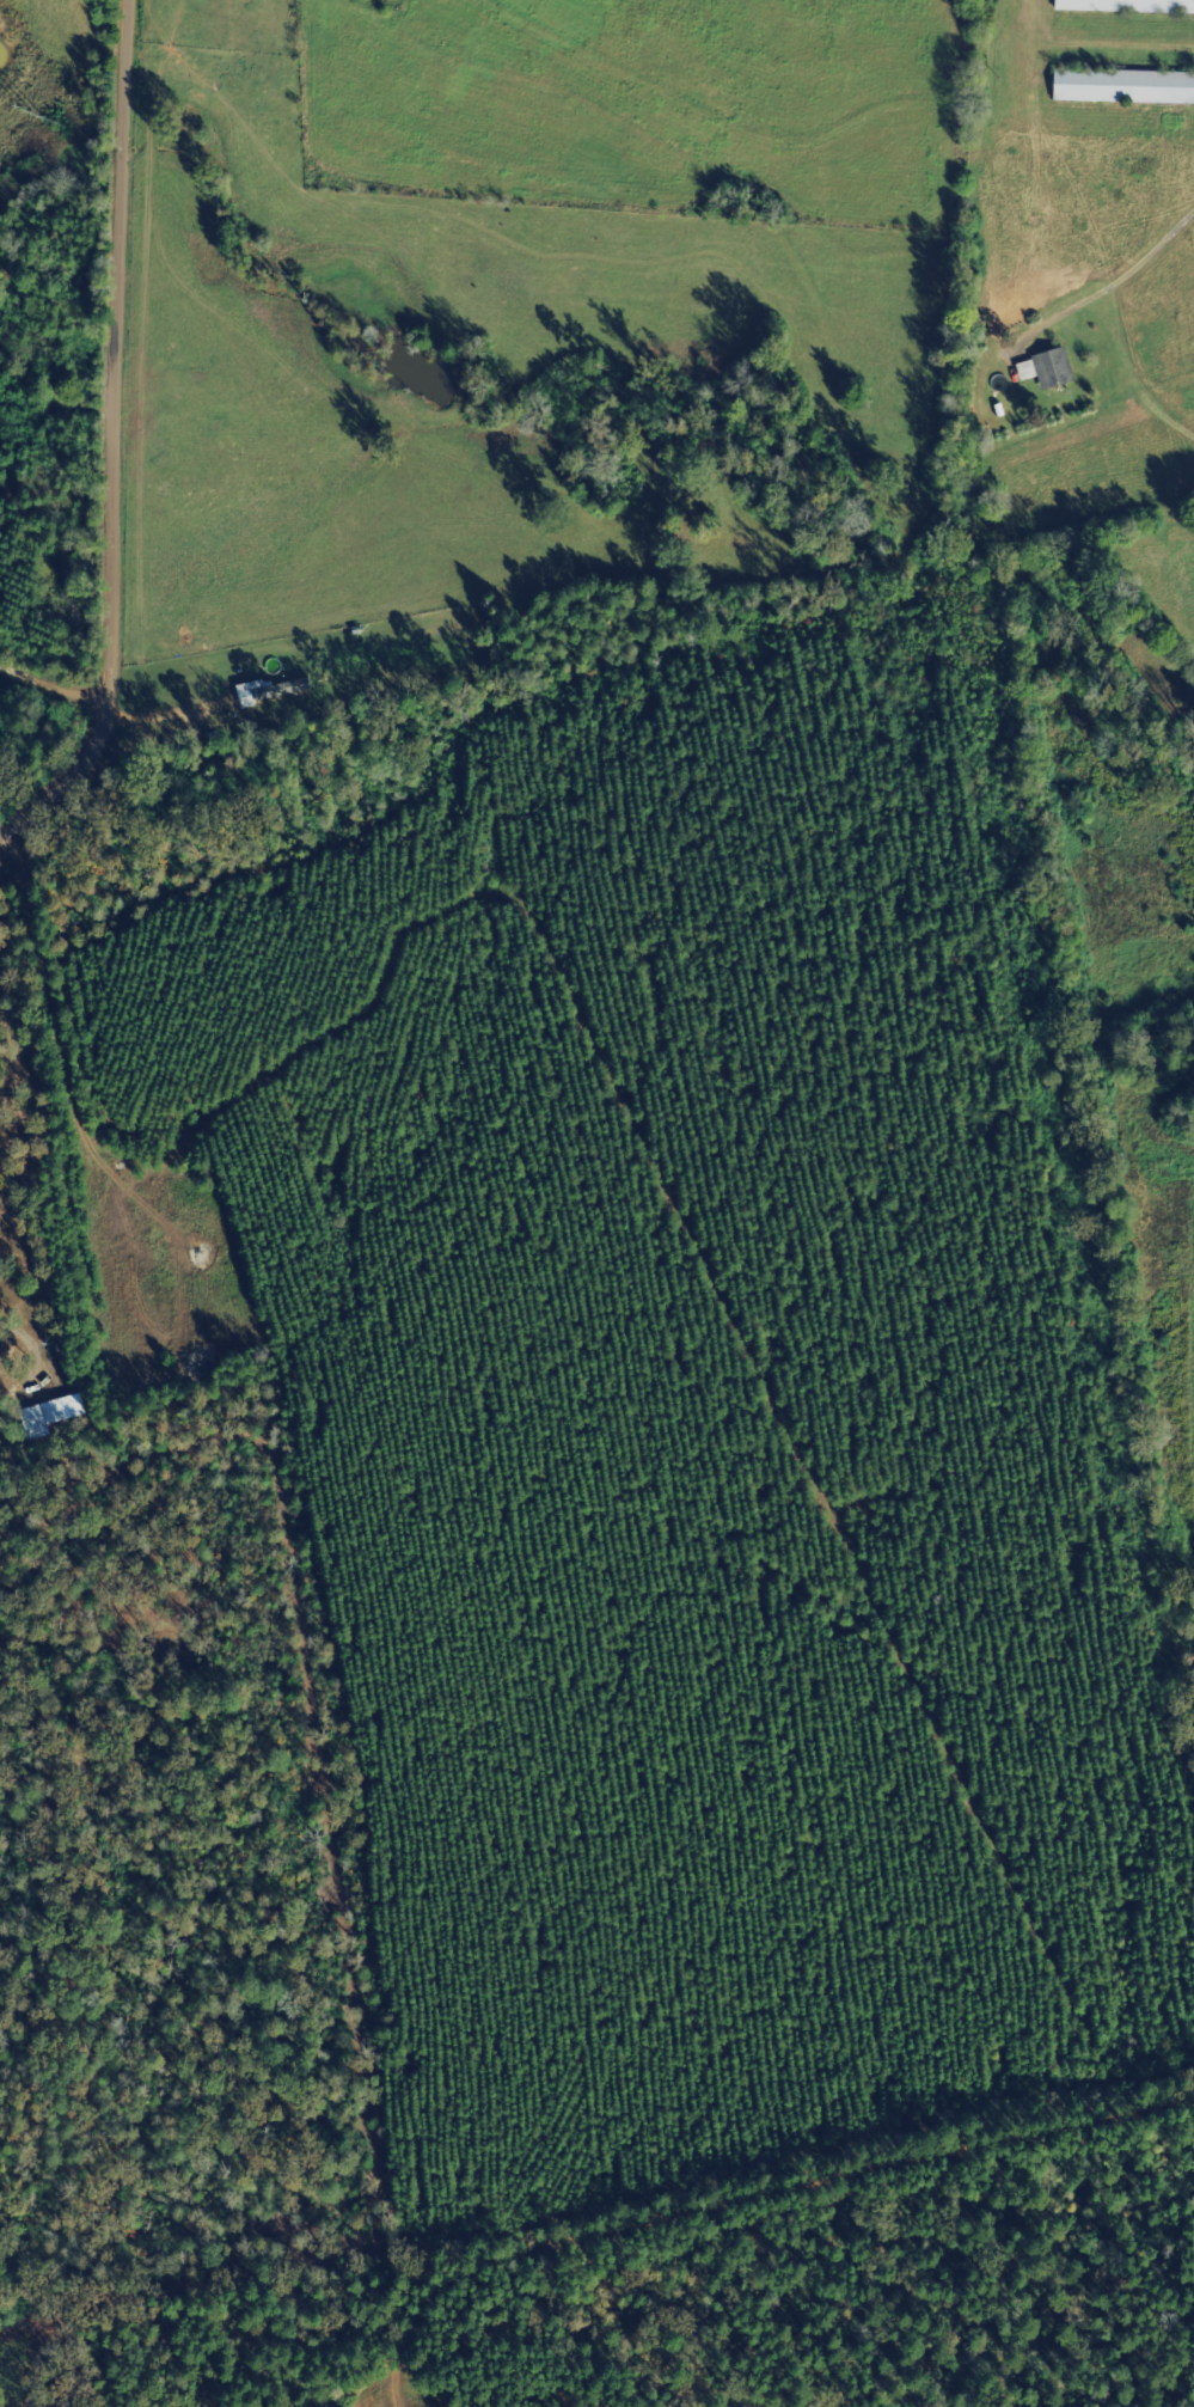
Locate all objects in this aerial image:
building: (1129, 6)
building: (1126, 87)
power tower: (18, 110)
building: (1051, 369)
road: (86, 454)
building: (51, 1413)

